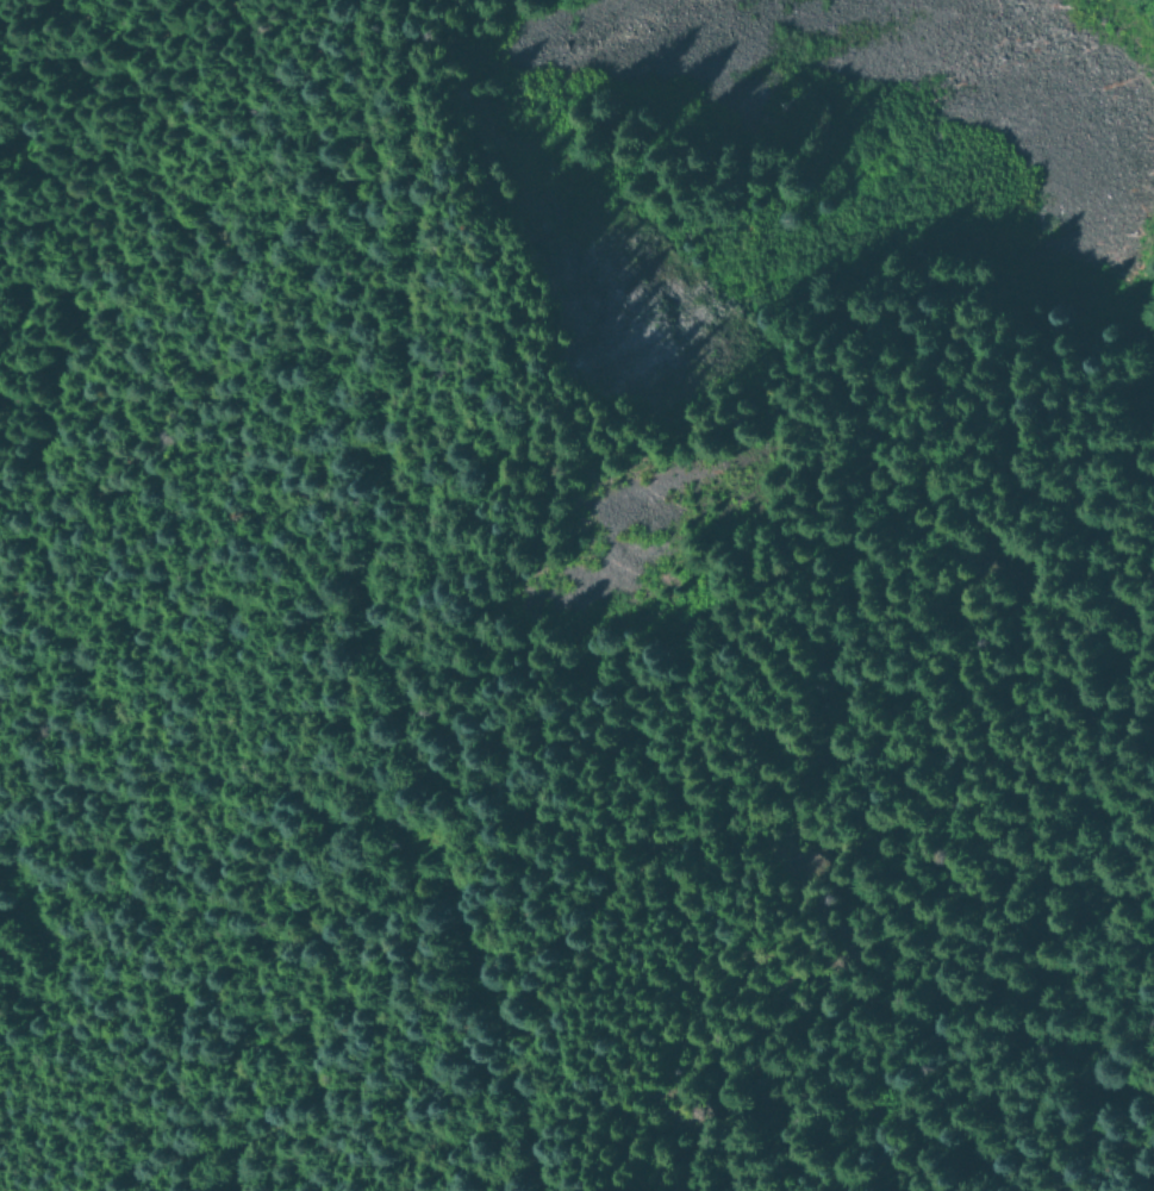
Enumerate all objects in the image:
road: (410, 603)

